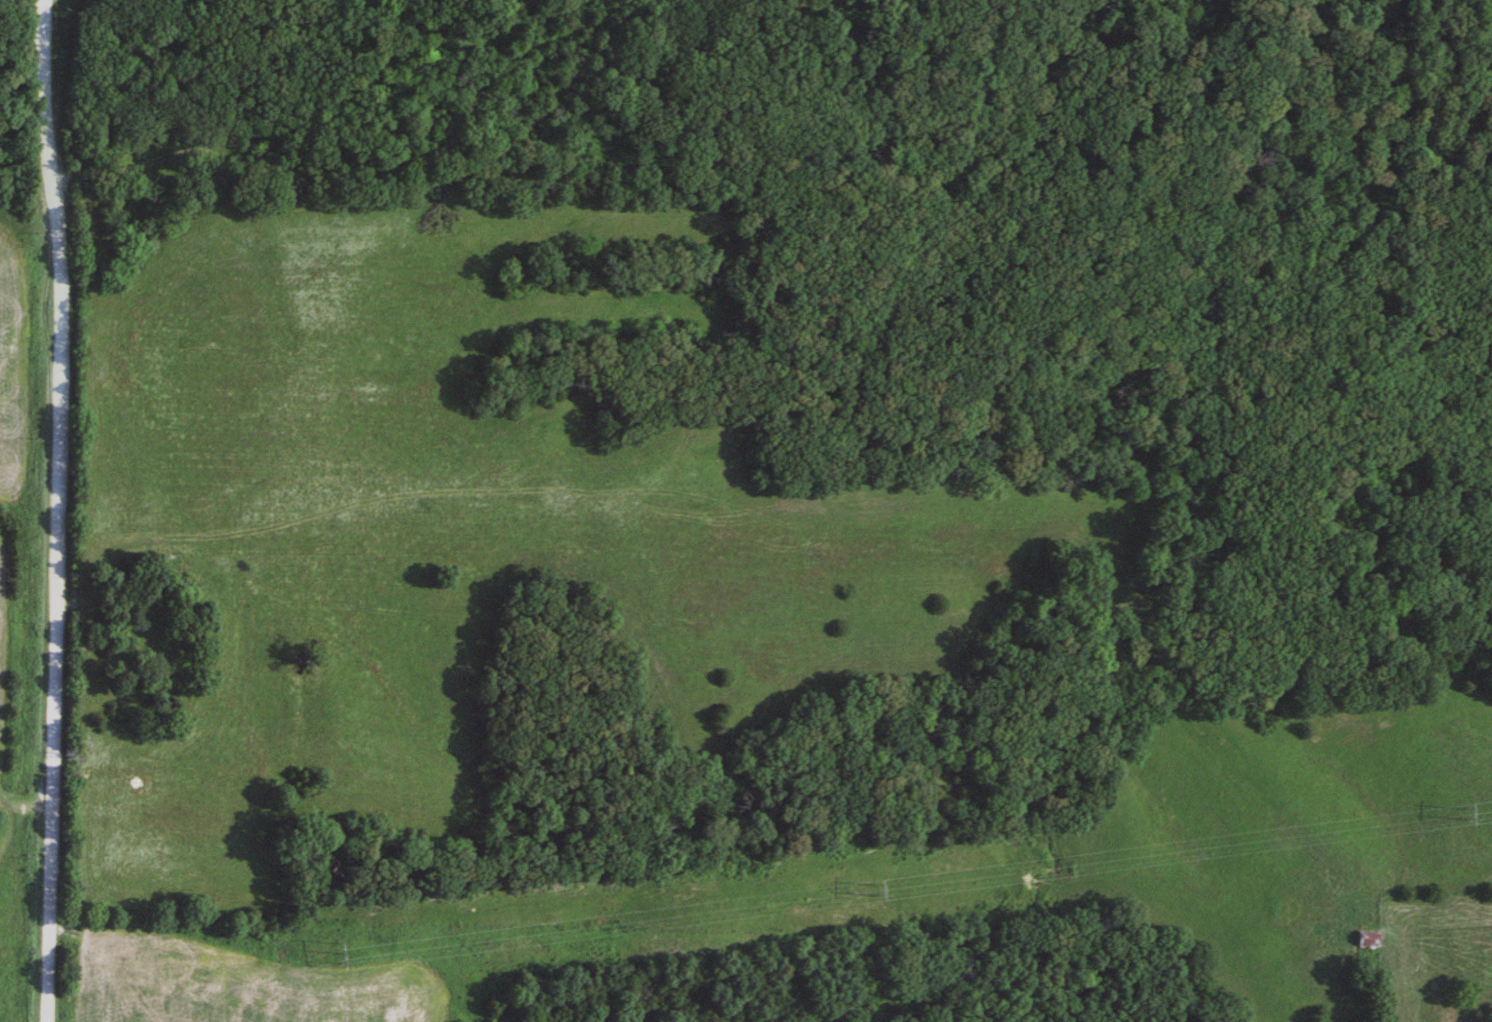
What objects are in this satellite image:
road: (58, 510)
power tower: (1457, 811)
road: (14, 813)
power tower: (861, 891)
building: (1362, 938)
power tower: (357, 957)

